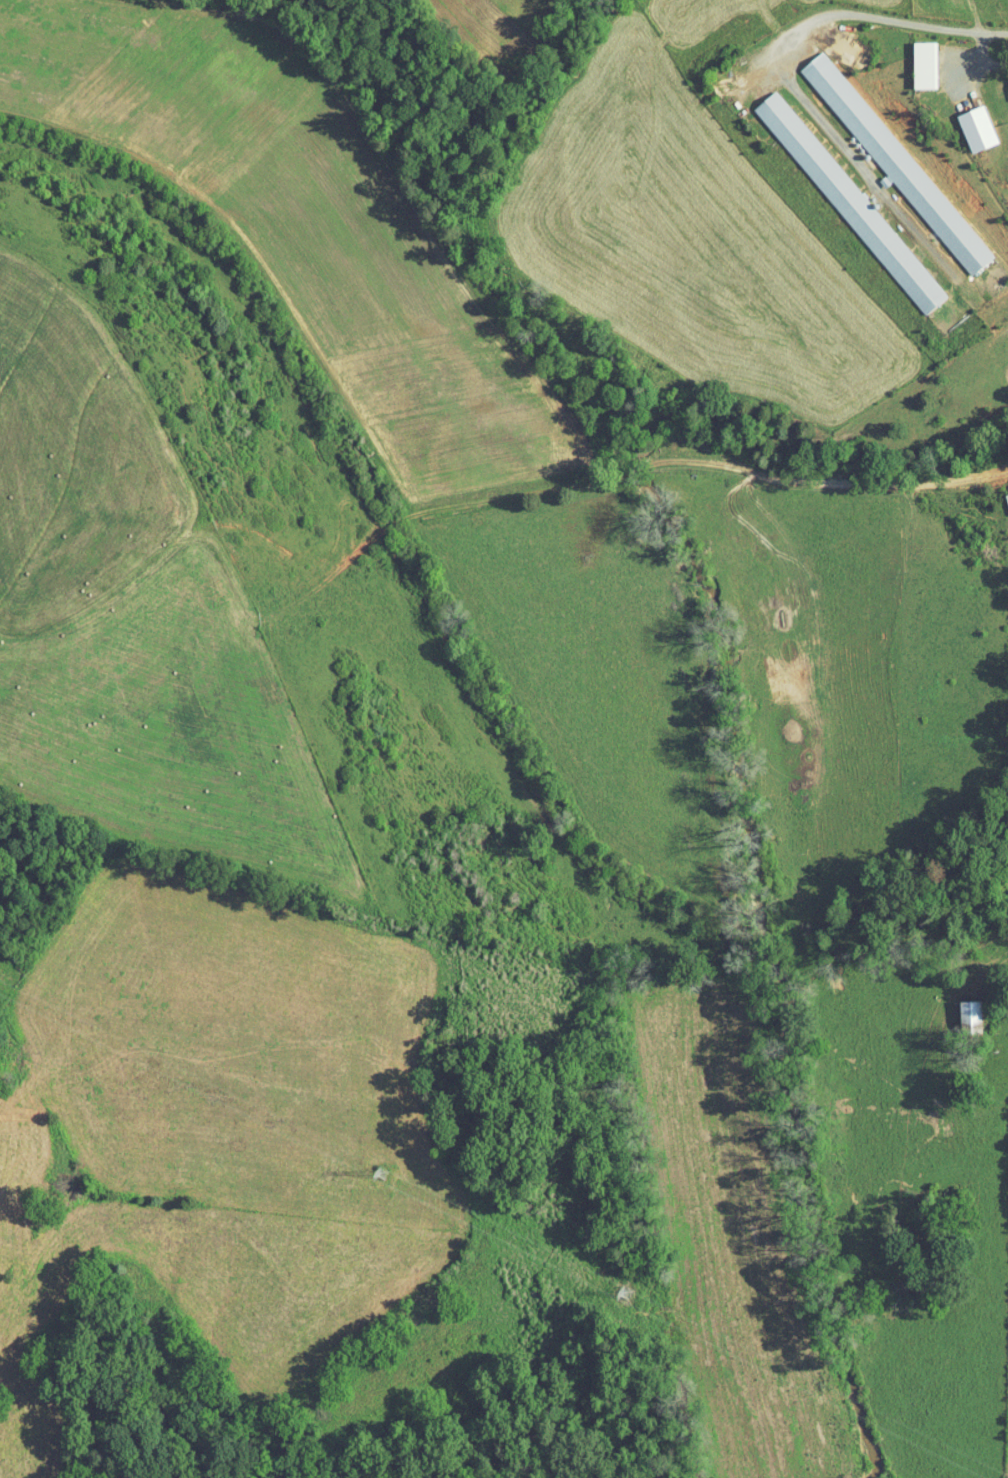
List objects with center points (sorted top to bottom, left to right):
building: (913, 58)
road: (775, 72)
building: (1007, 76)
building: (965, 122)
building: (882, 154)
building: (838, 196)
road: (478, 502)
building: (959, 1005)
power tower: (380, 1174)
power tower: (622, 1294)

